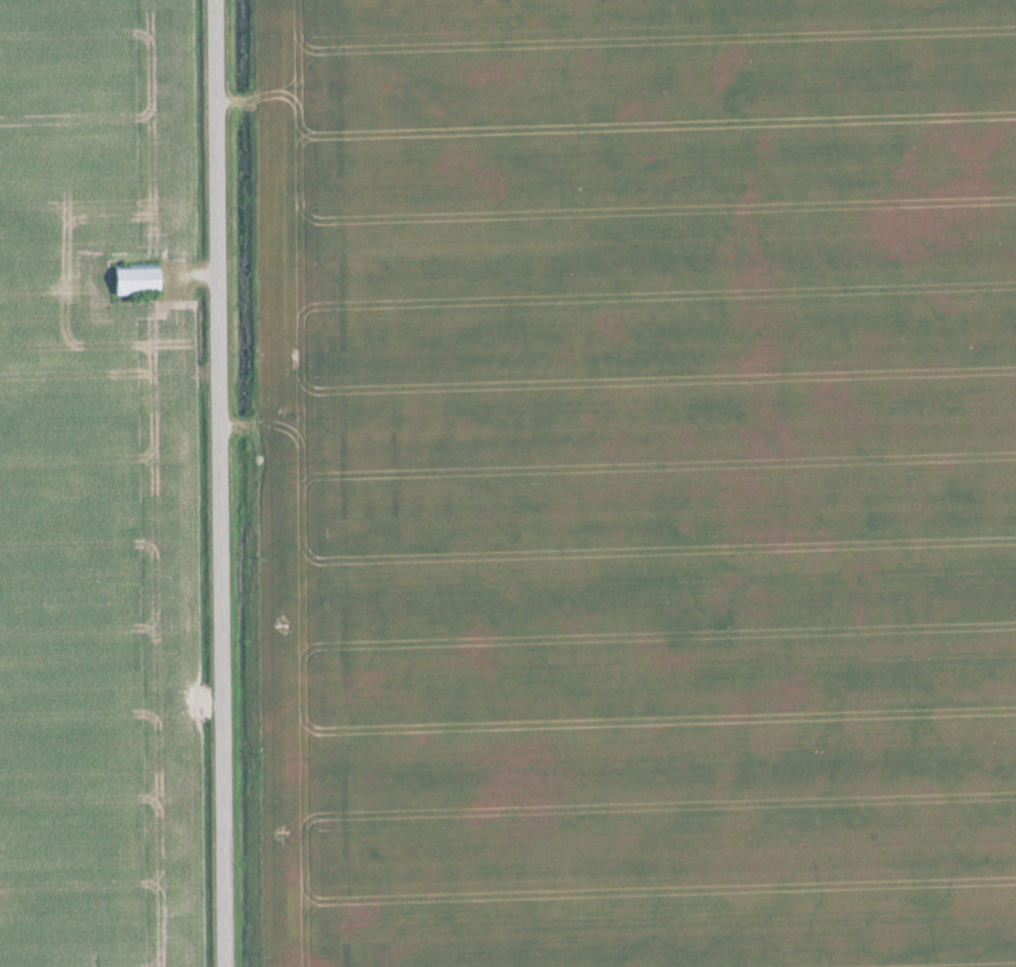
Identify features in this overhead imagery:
building: (138, 280)
road: (217, 483)

